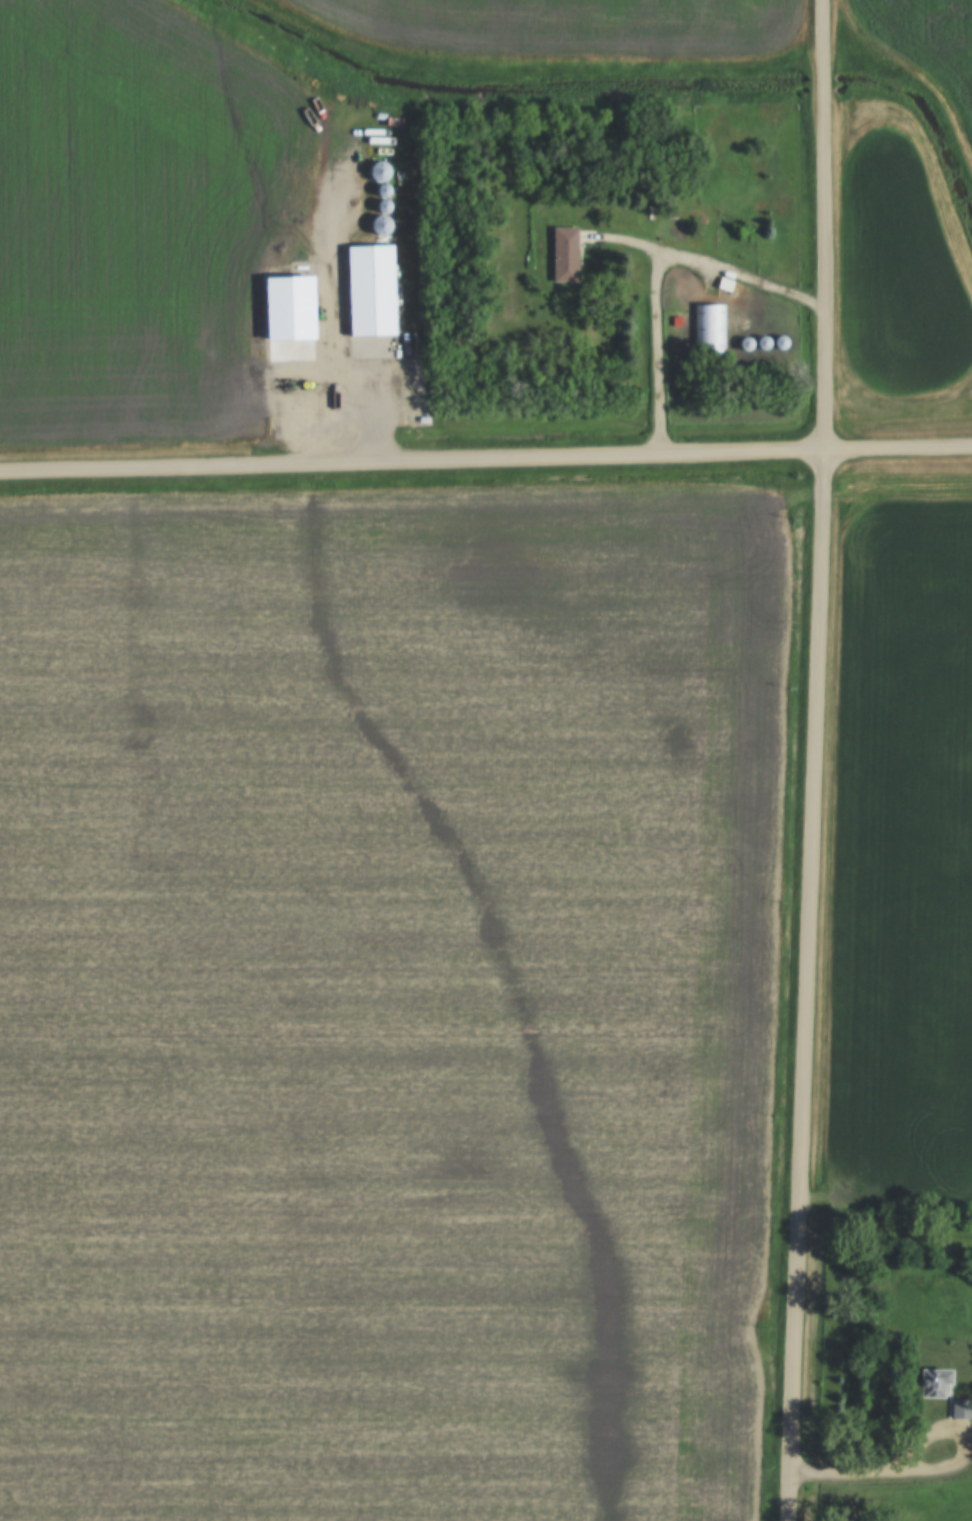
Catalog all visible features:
crop: (578, 25)
crop: (924, 46)
road: (821, 224)
crop: (152, 231)
building: (565, 253)
road: (658, 274)
crop: (898, 275)
building: (370, 289)
building: (709, 325)
road: (376, 404)
road: (486, 458)
crop: (904, 862)
road: (807, 985)
crop: (388, 1001)
building: (930, 1383)
road: (925, 1435)
road: (934, 1469)
road: (841, 1473)

